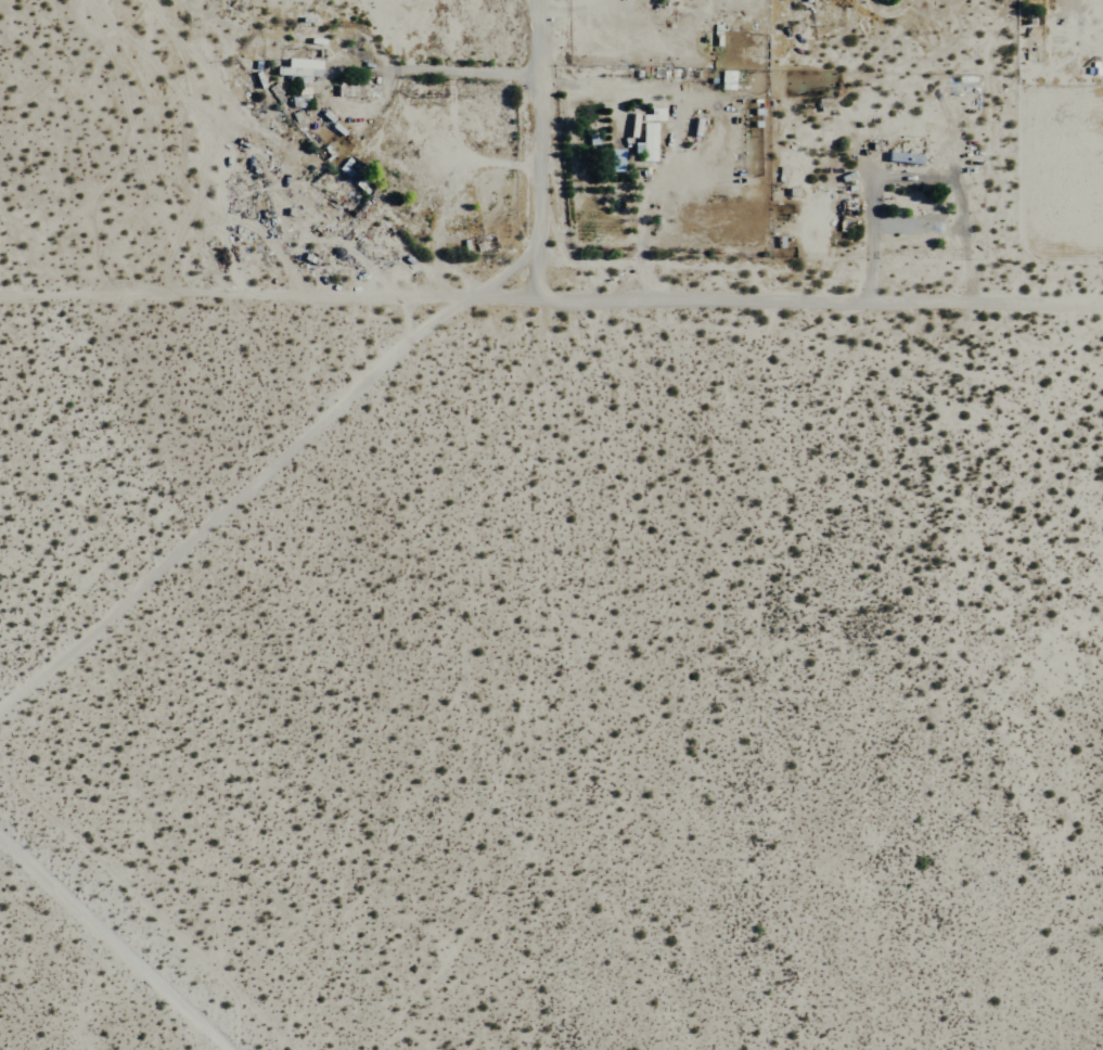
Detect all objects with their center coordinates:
building: (297, 68)
road: (414, 69)
building: (296, 105)
building: (643, 141)
road: (546, 145)
road: (460, 154)
building: (901, 157)
road: (551, 291)
road: (242, 499)
road: (110, 944)

